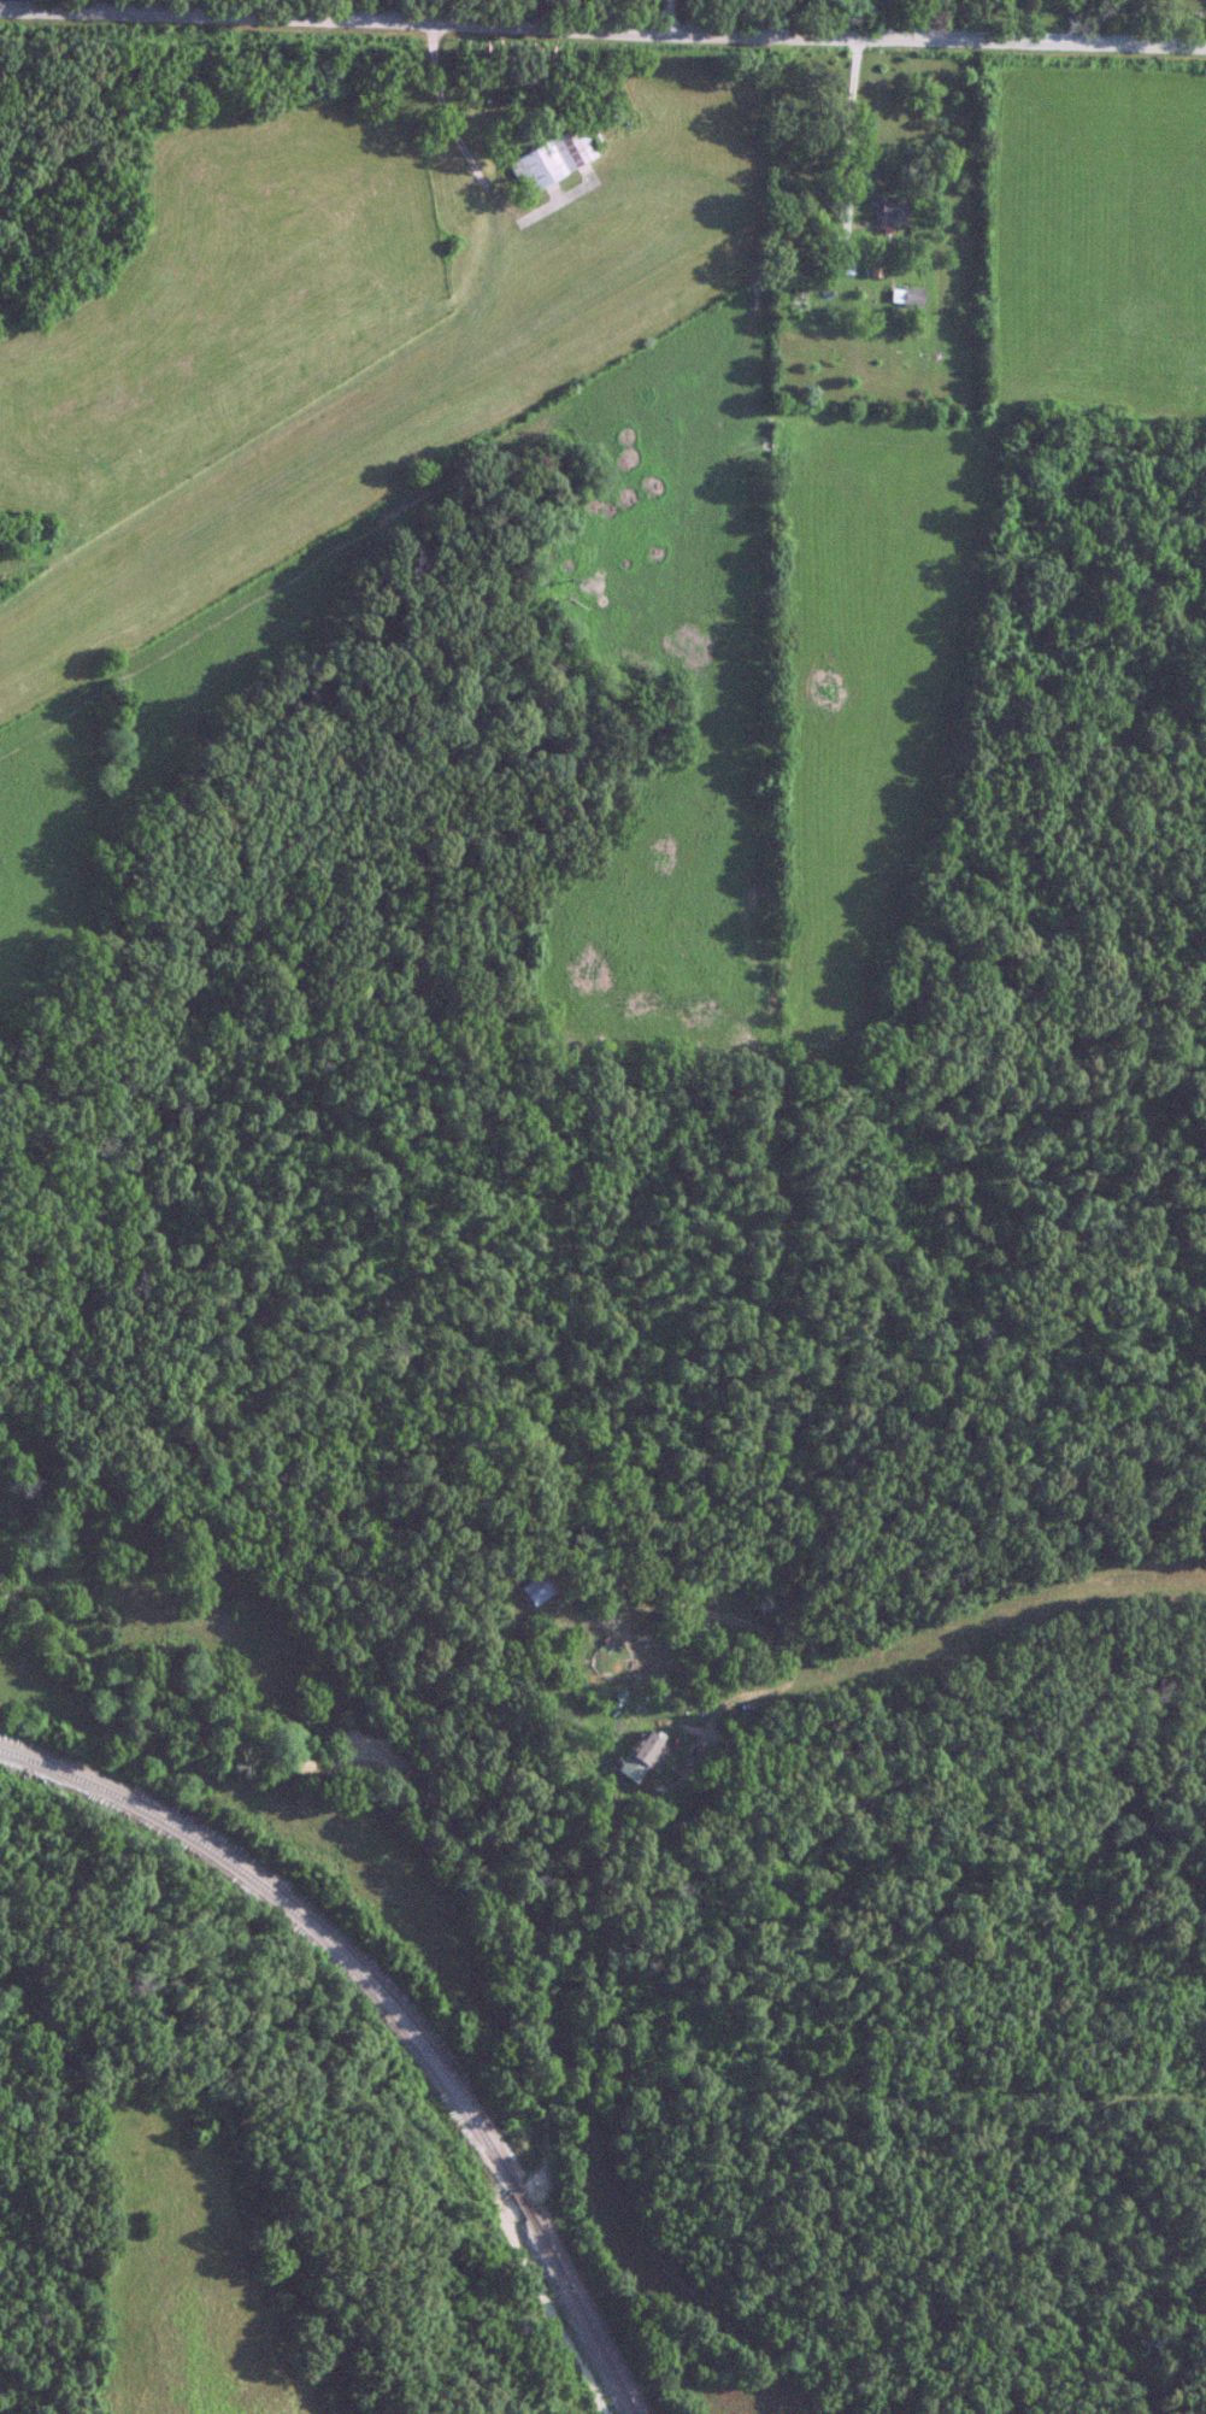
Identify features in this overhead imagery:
road: (664, 16)
road: (808, 18)
road: (602, 25)
building: (549, 158)
building: (888, 207)
building: (843, 263)
building: (911, 295)
airport runway: (381, 437)
building: (535, 1587)
road: (959, 1739)
building: (635, 1756)
railway: (394, 2005)

